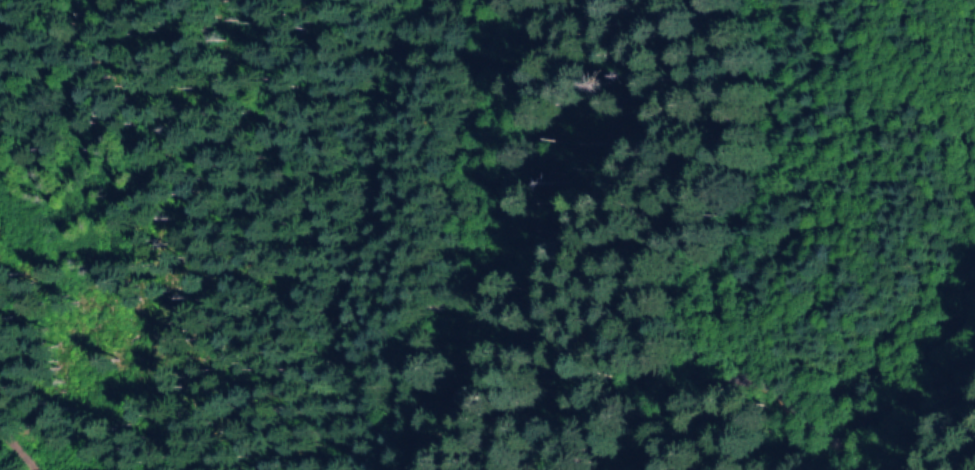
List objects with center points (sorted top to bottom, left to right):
road: (933, 376)
road: (27, 396)
road: (808, 420)

